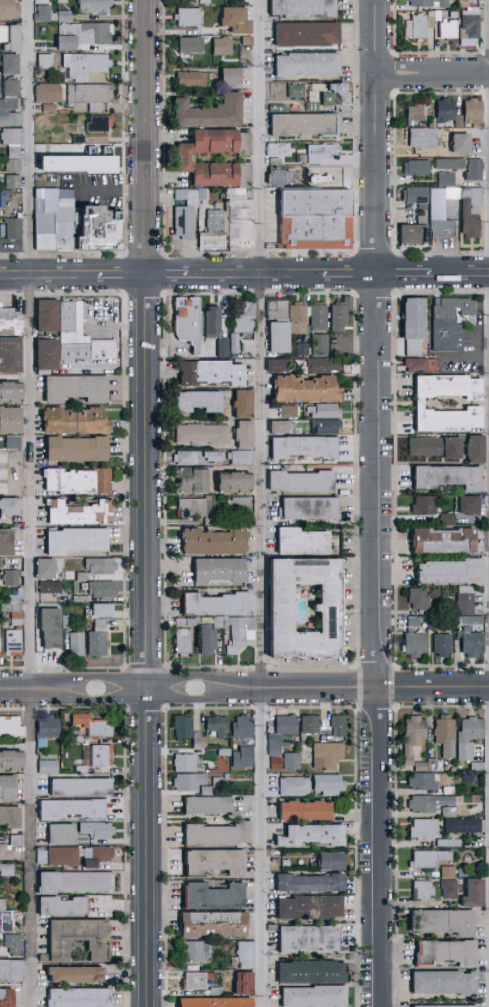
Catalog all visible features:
building: (206, 2)
building: (429, 2)
building: (92, 5)
building: (300, 7)
building: (8, 9)
building: (41, 12)
building: (62, 15)
building: (431, 16)
building: (190, 18)
building: (237, 22)
building: (467, 25)
building: (414, 26)
building: (446, 28)
building: (86, 32)
building: (304, 32)
building: (8, 37)
building: (63, 42)
building: (249, 42)
building: (192, 47)
building: (224, 48)
building: (42, 60)
building: (7, 62)
building: (304, 63)
building: (85, 64)
road: (434, 73)
building: (232, 78)
building: (192, 80)
building: (8, 86)
building: (294, 90)
building: (46, 92)
building: (330, 92)
building: (88, 94)
building: (442, 109)
building: (414, 111)
building: (470, 111)
building: (9, 112)
building: (209, 112)
building: (97, 121)
building: (300, 123)
building: (10, 135)
building: (422, 136)
road: (381, 137)
building: (457, 142)
building: (277, 148)
building: (317, 152)
building: (186, 160)
building: (72, 162)
building: (448, 162)
building: (414, 166)
building: (472, 168)
building: (277, 176)
building: (444, 178)
building: (11, 180)
road: (102, 188)
road: (134, 189)
building: (204, 195)
building: (414, 195)
building: (439, 211)
building: (471, 212)
building: (186, 215)
building: (242, 222)
building: (315, 225)
building: (11, 227)
building: (46, 229)
building: (68, 230)
building: (216, 232)
building: (413, 236)
building: (106, 237)
road: (405, 275)
road: (459, 275)
road: (123, 276)
road: (168, 276)
road: (284, 276)
road: (49, 277)
building: (280, 309)
building: (48, 315)
building: (342, 315)
building: (245, 317)
building: (320, 317)
building: (299, 319)
building: (189, 321)
building: (12, 322)
building: (214, 322)
building: (450, 324)
building: (415, 326)
building: (81, 336)
building: (281, 337)
building: (236, 344)
road: (263, 344)
building: (321, 344)
building: (301, 351)
building: (11, 355)
building: (48, 356)
road: (464, 356)
building: (279, 366)
building: (323, 366)
building: (421, 366)
building: (213, 374)
building: (78, 389)
building: (307, 389)
building: (12, 392)
building: (201, 402)
building: (420, 404)
building: (245, 405)
building: (290, 411)
building: (325, 411)
building: (11, 420)
building: (76, 421)
building: (280, 427)
building: (327, 427)
building: (205, 434)
building: (246, 435)
building: (14, 443)
building: (306, 448)
building: (437, 448)
building: (78, 449)
building: (477, 450)
building: (215, 457)
building: (3, 458)
building: (16, 458)
building: (242, 458)
building: (187, 459)
building: (449, 478)
building: (192, 481)
building: (16, 482)
building: (80, 482)
road: (379, 482)
building: (237, 483)
building: (303, 483)
road: (31, 503)
road: (148, 503)
building: (470, 505)
building: (241, 506)
building: (426, 506)
building: (10, 507)
building: (192, 508)
building: (311, 509)
building: (80, 513)
building: (449, 520)
building: (213, 522)
building: (77, 541)
building: (445, 541)
building: (7, 543)
building: (216, 543)
building: (304, 543)
building: (1, 564)
building: (101, 566)
building: (47, 570)
building: (221, 571)
building: (451, 572)
building: (83, 577)
building: (12, 579)
building: (48, 588)
building: (104, 590)
building: (420, 599)
building: (82, 600)
building: (467, 601)
building: (218, 604)
building: (15, 606)
building: (329, 609)
building: (104, 611)
building: (68, 622)
building: (189, 622)
building: (219, 622)
building: (469, 622)
building: (415, 623)
building: (433, 626)
building: (52, 629)
building: (241, 633)
building: (100, 640)
building: (210, 640)
building: (15, 643)
building: (184, 643)
building: (473, 643)
building: (78, 645)
building: (416, 645)
building: (444, 645)
building: (1, 647)
road: (433, 688)
road: (189, 689)
building: (308, 723)
building: (214, 725)
building: (336, 725)
building: (9, 726)
building: (181, 726)
building: (241, 726)
building: (97, 727)
building: (280, 732)
building: (443, 734)
building: (466, 735)
building: (411, 736)
building: (197, 740)
building: (100, 754)
building: (325, 754)
building: (241, 756)
building: (290, 760)
building: (8, 761)
building: (183, 762)
building: (275, 762)
building: (45, 765)
building: (420, 780)
building: (186, 781)
building: (327, 783)
building: (6, 786)
building: (77, 786)
building: (292, 786)
building: (427, 802)
building: (204, 805)
building: (68, 809)
building: (302, 810)
building: (447, 811)
building: (8, 816)
building: (462, 824)
building: (422, 827)
building: (95, 829)
building: (58, 833)
building: (215, 834)
building: (309, 834)
building: (13, 839)
road: (266, 847)
road: (379, 847)
building: (5, 851)
building: (95, 853)
building: (61, 855)
building: (39, 856)
building: (428, 857)
building: (327, 860)
building: (211, 861)
building: (5, 867)
building: (446, 871)
building: (72, 881)
building: (307, 883)
building: (448, 888)
building: (421, 889)
building: (471, 893)
building: (211, 896)
building: (58, 906)
building: (306, 907)
building: (440, 921)
building: (210, 924)
building: (76, 937)
building: (304, 938)
building: (12, 943)
building: (193, 951)
building: (444, 952)
building: (244, 954)
building: (9, 970)
building: (309, 972)
building: (71, 975)
building: (197, 979)
building: (241, 982)
building: (441, 982)
building: (310, 996)
building: (5, 997)
building: (75, 997)
building: (212, 1002)
building: (443, 1005)

